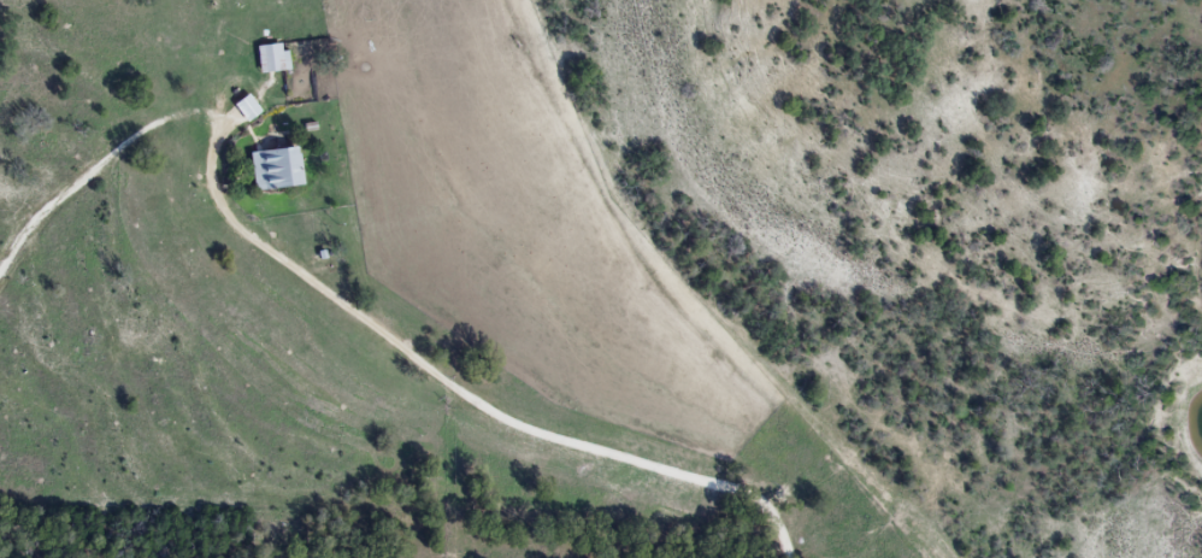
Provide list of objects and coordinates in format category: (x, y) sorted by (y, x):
building: (271, 57)
building: (244, 106)
building: (271, 166)
road: (136, 184)
road: (725, 301)
road: (470, 401)

